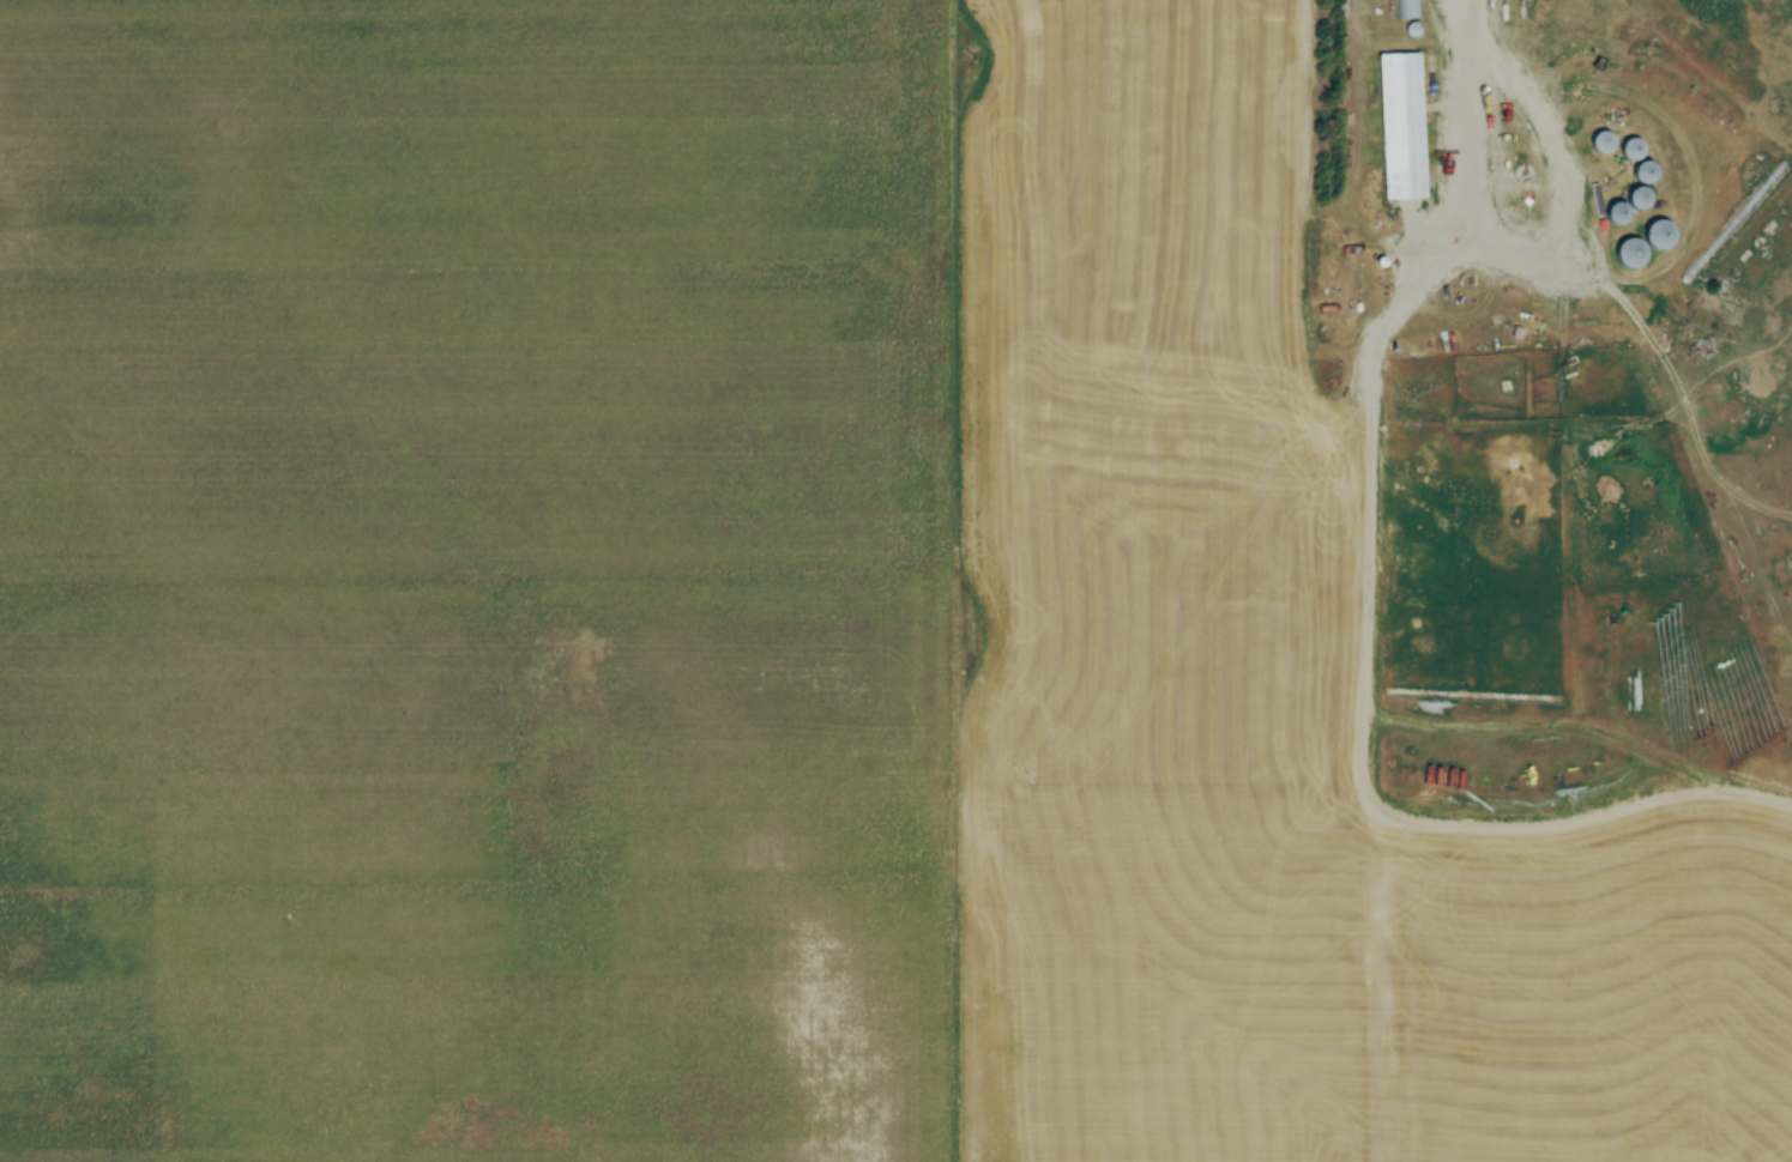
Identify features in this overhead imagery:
building: (1408, 10)
road: (1473, 23)
building: (1547, 43)
building: (1404, 126)
building: (1605, 143)
building: (1622, 212)
road: (1528, 253)
building: (1633, 253)

